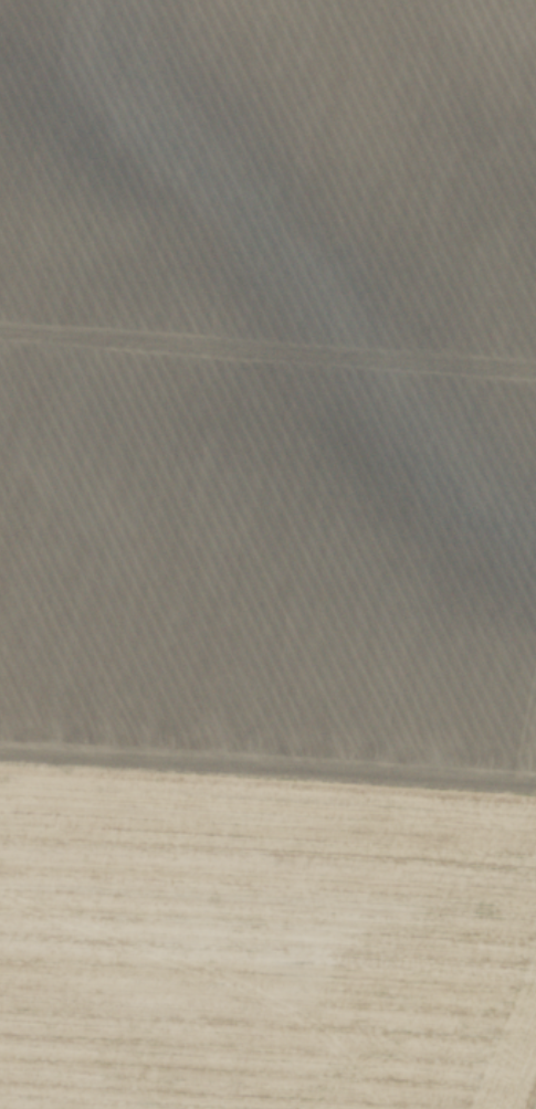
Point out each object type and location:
road: (267, 348)
crop: (267, 553)
road: (267, 775)

